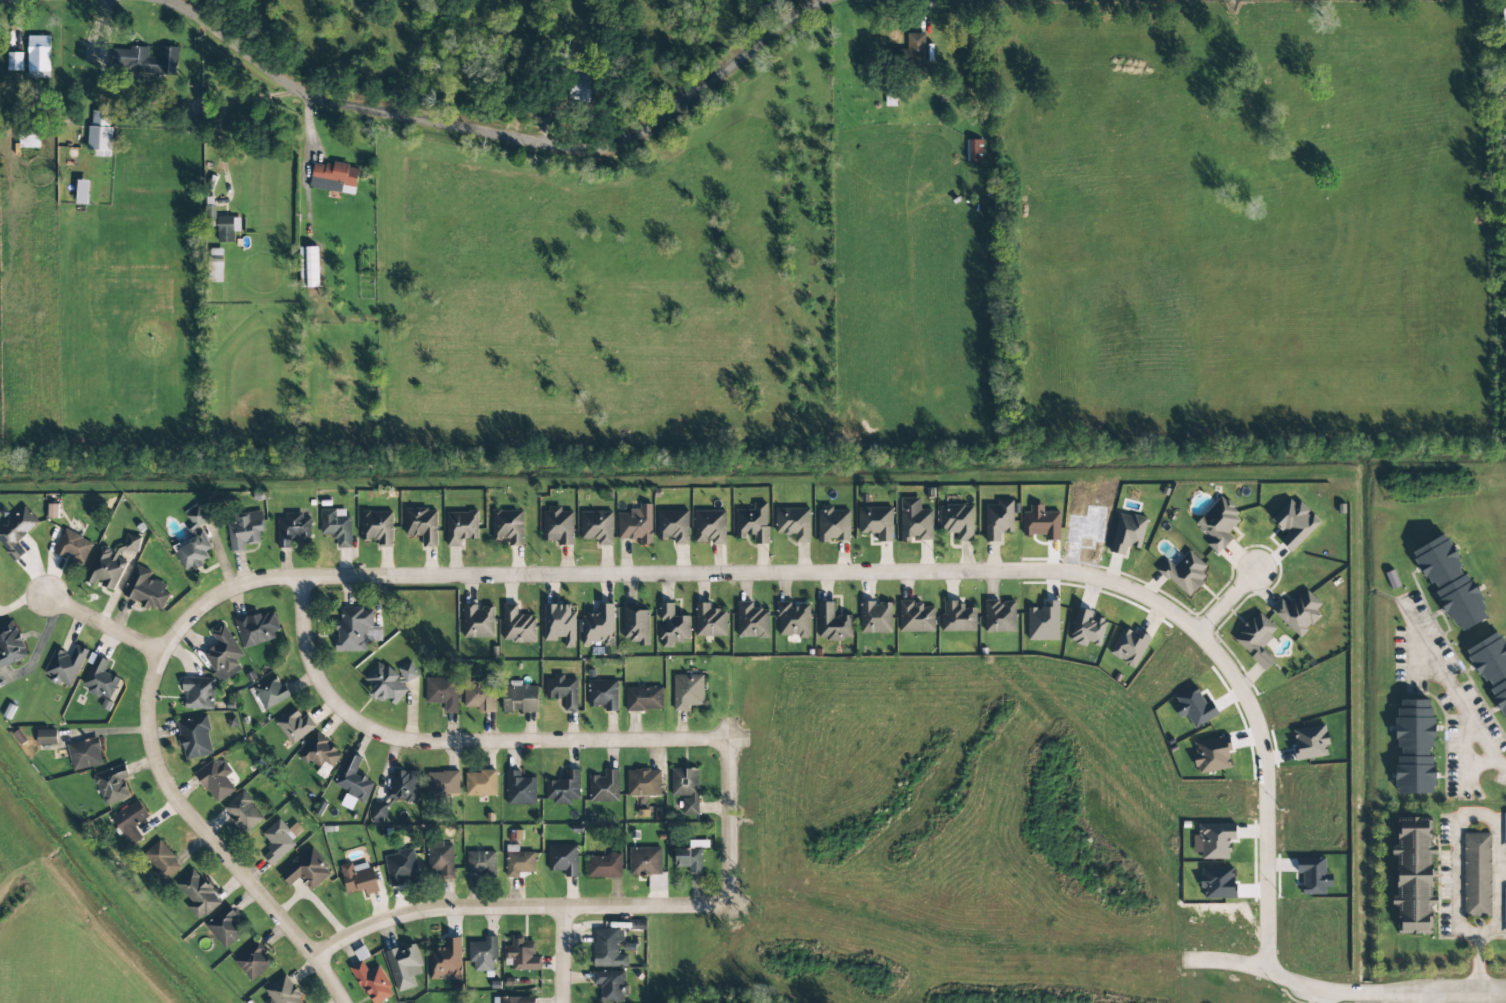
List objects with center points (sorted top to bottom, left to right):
building: (1500, 42)
building: (915, 50)
building: (38, 54)
building: (145, 60)
building: (15, 62)
road: (504, 132)
building: (100, 133)
building: (28, 138)
building: (974, 150)
building: (334, 178)
building: (82, 192)
building: (227, 228)
building: (214, 265)
building: (308, 267)
building: (53, 511)
building: (998, 520)
building: (915, 521)
building: (957, 521)
building: (752, 523)
building: (794, 523)
building: (876, 523)
building: (1218, 524)
building: (1294, 524)
building: (422, 525)
building: (636, 525)
building: (833, 525)
building: (336, 526)
building: (508, 526)
building: (558, 526)
building: (673, 526)
building: (377, 527)
building: (597, 527)
building: (710, 527)
building: (461, 528)
building: (292, 529)
building: (245, 530)
building: (16, 531)
building: (1127, 533)
building: (194, 543)
building: (73, 547)
building: (110, 564)
building: (1184, 573)
road: (851, 577)
building: (1446, 582)
building: (146, 589)
road: (1226, 603)
building: (1298, 612)
building: (999, 616)
building: (915, 617)
building: (958, 617)
building: (875, 618)
building: (794, 619)
building: (710, 621)
building: (752, 621)
building: (478, 622)
building: (1043, 622)
building: (559, 623)
building: (832, 623)
building: (635, 624)
building: (517, 626)
building: (599, 626)
building: (672, 626)
building: (257, 628)
building: (1087, 628)
building: (353, 629)
road: (121, 633)
building: (1256, 640)
building: (10, 645)
building: (1129, 646)
building: (223, 655)
building: (65, 666)
building: (1490, 669)
building: (99, 678)
building: (389, 682)
road: (1454, 684)
building: (563, 691)
building: (688, 692)
building: (198, 693)
building: (442, 693)
building: (603, 694)
building: (480, 696)
building: (519, 697)
building: (644, 699)
building: (1194, 707)
building: (294, 725)
road: (729, 729)
building: (46, 737)
building: (195, 737)
road: (460, 742)
building: (1310, 743)
building: (1409, 745)
building: (85, 754)
building: (1210, 756)
building: (353, 780)
building: (216, 781)
building: (442, 783)
building: (643, 783)
building: (112, 784)
building: (480, 784)
building: (402, 786)
building: (604, 787)
building: (563, 788)
building: (520, 789)
building: (686, 789)
building: (379, 811)
building: (243, 813)
building: (130, 822)
road: (729, 822)
building: (1505, 832)
road: (212, 840)
building: (1216, 840)
building: (278, 842)
road: (1456, 842)
building: (690, 857)
building: (441, 859)
building: (563, 859)
building: (162, 861)
building: (645, 861)
building: (518, 862)
building: (481, 863)
building: (604, 866)
building: (401, 868)
building: (306, 871)
building: (1409, 874)
building: (1474, 874)
building: (1313, 875)
building: (359, 878)
building: (198, 895)
road: (740, 905)
road: (516, 907)
building: (1505, 910)
road: (730, 917)
building: (225, 927)
road: (1491, 930)
building: (608, 948)
building: (483, 955)
road: (565, 955)
building: (520, 956)
building: (253, 960)
building: (446, 961)
building: (404, 967)
building: (372, 982)
building: (610, 986)
building: (283, 992)
road: (1336, 995)
road: (1459, 997)
building: (514, 1000)
road: (1424, 1000)

